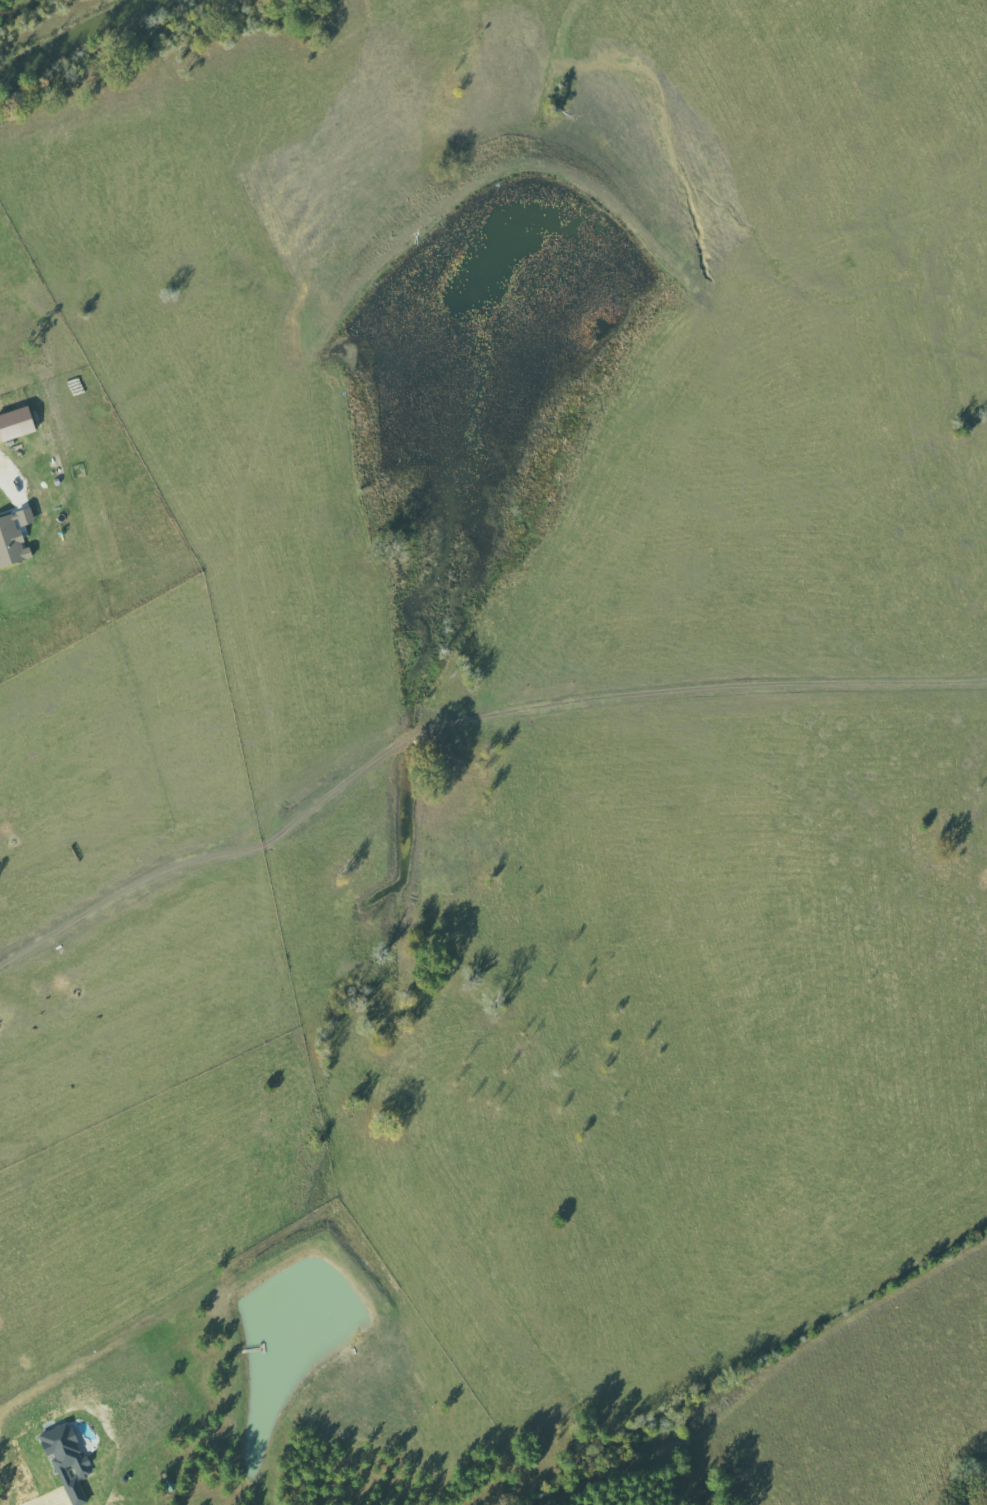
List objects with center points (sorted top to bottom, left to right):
building: (19, 423)
building: (16, 538)
building: (70, 1460)

